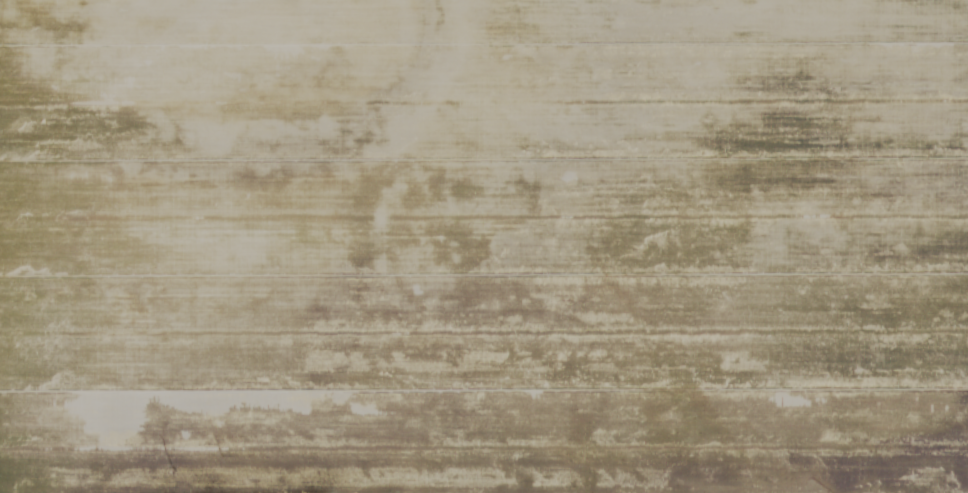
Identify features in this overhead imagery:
crop: (484, 246)

